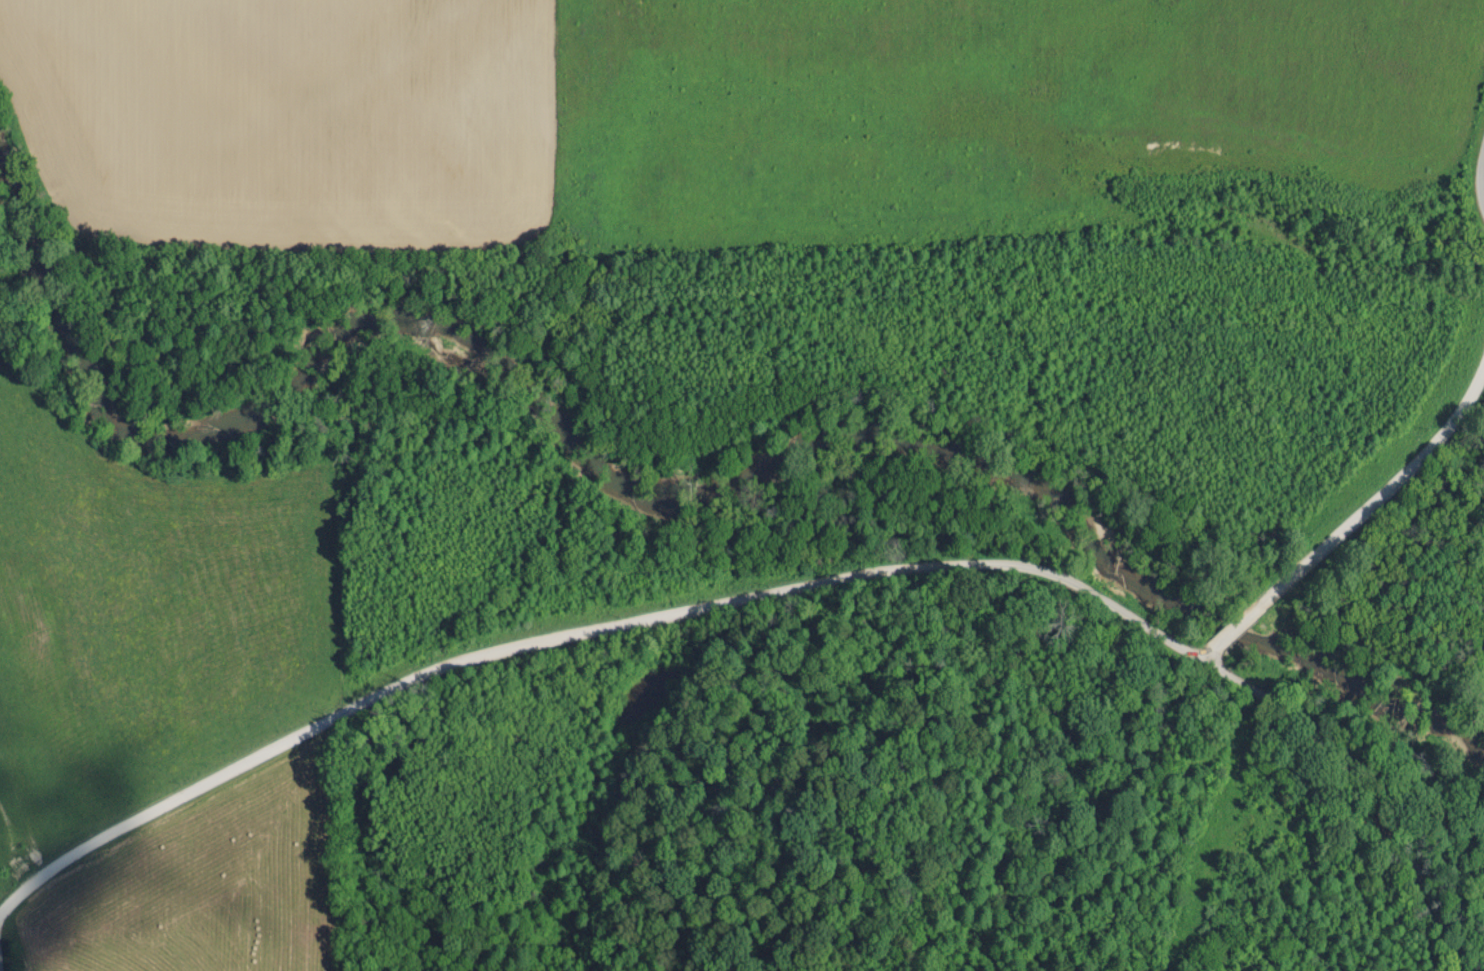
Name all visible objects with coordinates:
road: (1481, 174)
road: (1382, 490)
river: (657, 491)
road: (1236, 626)
road: (579, 628)
road: (1357, 781)
road: (2, 953)

